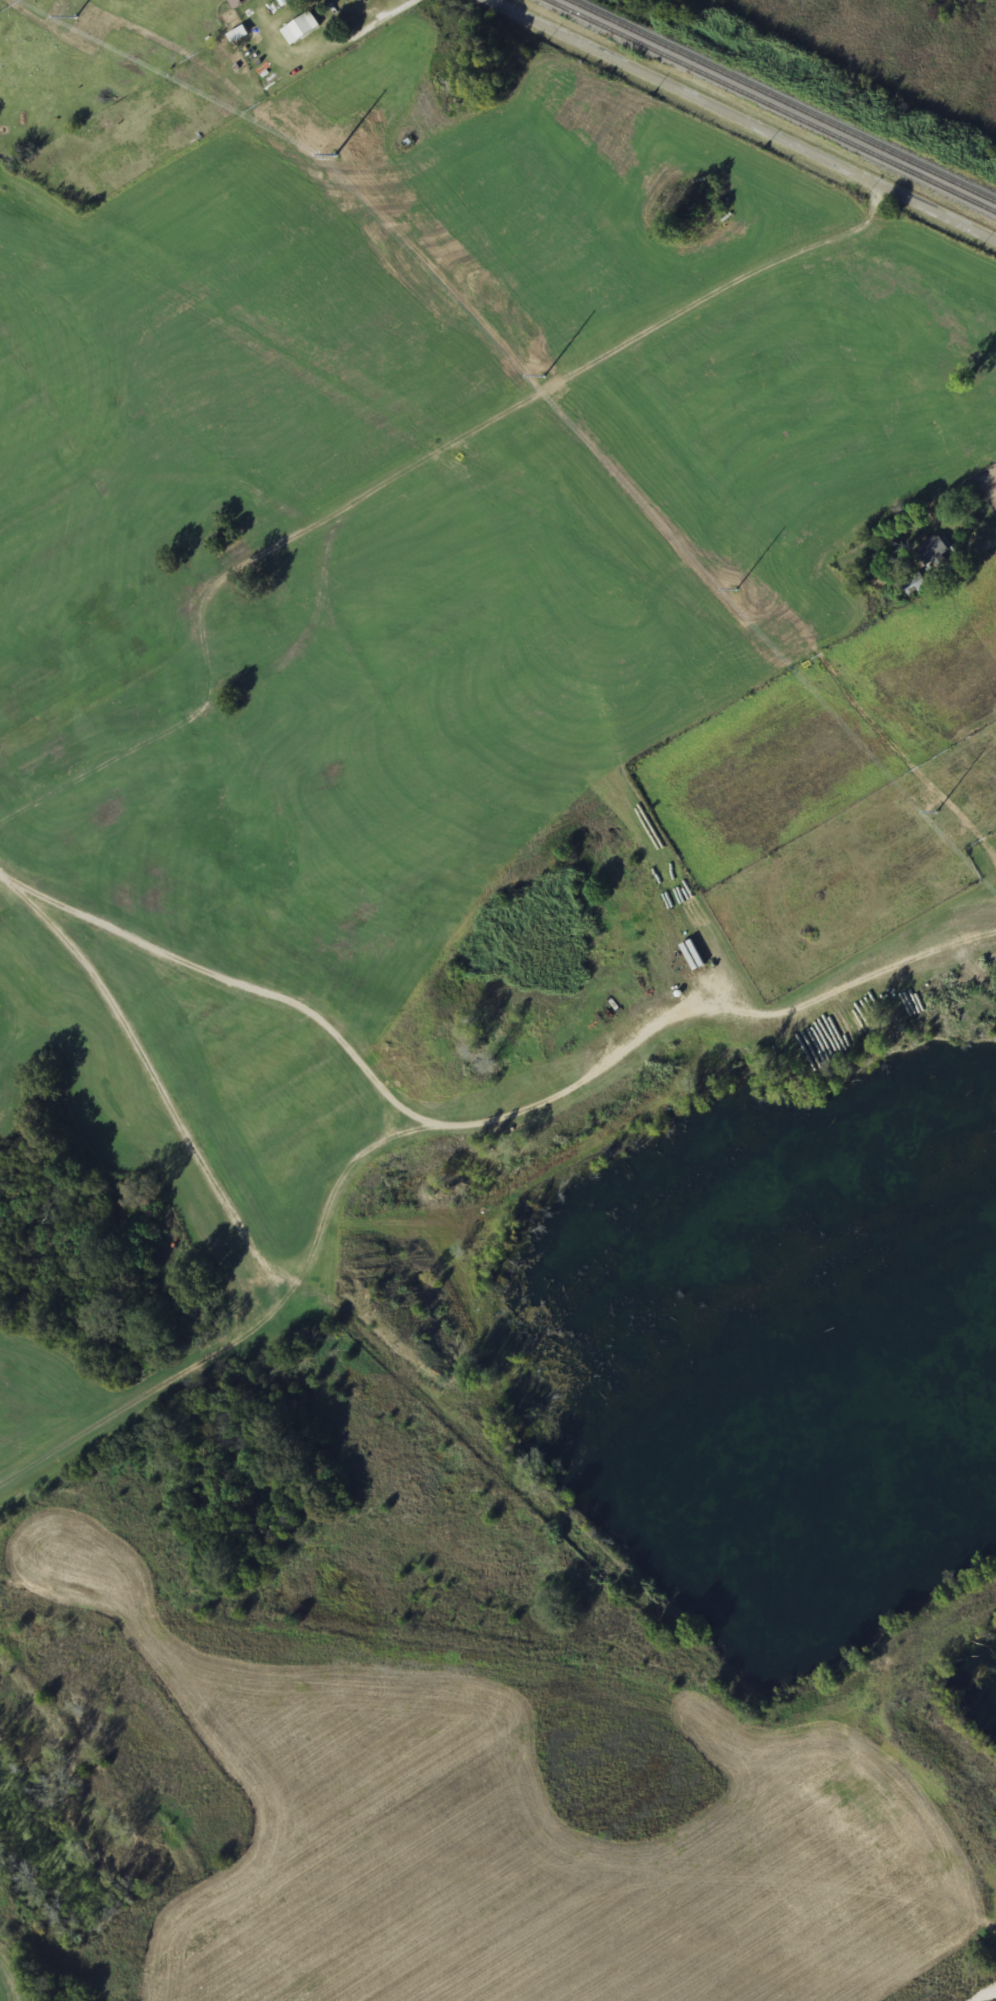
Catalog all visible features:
building: (352, 2)
power tower: (68, 12)
railway: (781, 101)
railway: (772, 105)
road: (737, 121)
power tower: (350, 151)
power tower: (540, 370)
building: (932, 551)
building: (915, 586)
power tower: (742, 596)
power tower: (942, 815)
road: (30, 898)
building: (366, 1042)

